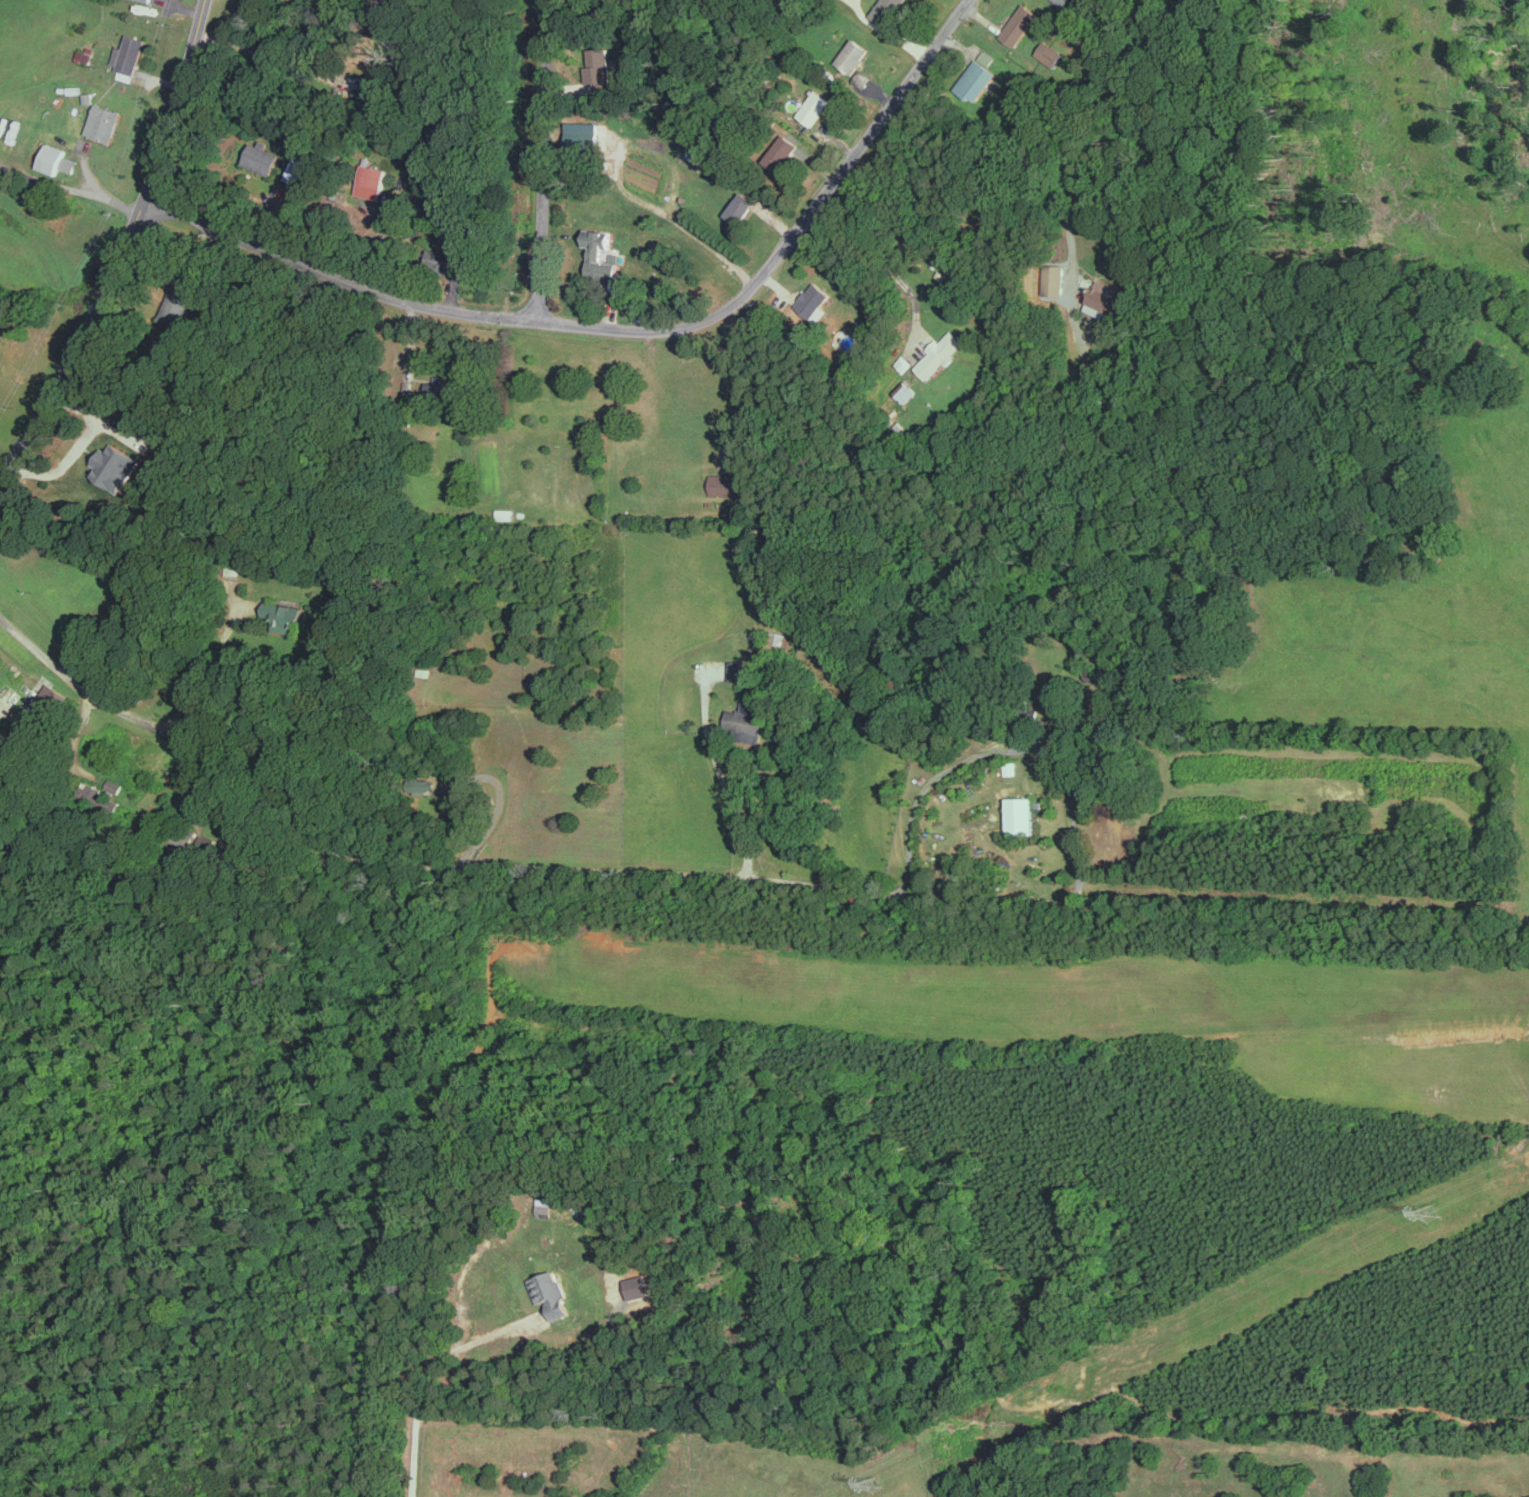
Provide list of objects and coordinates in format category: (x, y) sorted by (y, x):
building: (148, 0)
building: (1067, 3)
building: (887, 10)
building: (1020, 23)
road: (262, 52)
building: (83, 53)
building: (128, 53)
building: (1050, 53)
building: (851, 55)
building: (595, 70)
building: (976, 80)
building: (814, 107)
building: (103, 121)
road: (1100, 143)
building: (782, 153)
building: (261, 157)
building: (52, 158)
road: (543, 160)
building: (69, 163)
building: (299, 170)
building: (372, 180)
road: (69, 188)
road: (625, 189)
building: (741, 207)
road: (123, 249)
building: (600, 254)
building: (448, 260)
building: (1052, 275)
building: (1100, 298)
building: (813, 299)
road: (622, 333)
building: (939, 354)
building: (903, 363)
building: (905, 390)
building: (115, 466)
building: (726, 484)
building: (285, 617)
building: (733, 670)
road: (201, 676)
building: (747, 720)
road: (721, 777)
building: (422, 784)
building: (1021, 815)
building: (1117, 836)
road: (548, 871)
airport runway: (1023, 977)
building: (544, 1207)
power tower: (1424, 1214)
building: (552, 1294)
road: (413, 1397)
power tower: (870, 1481)

